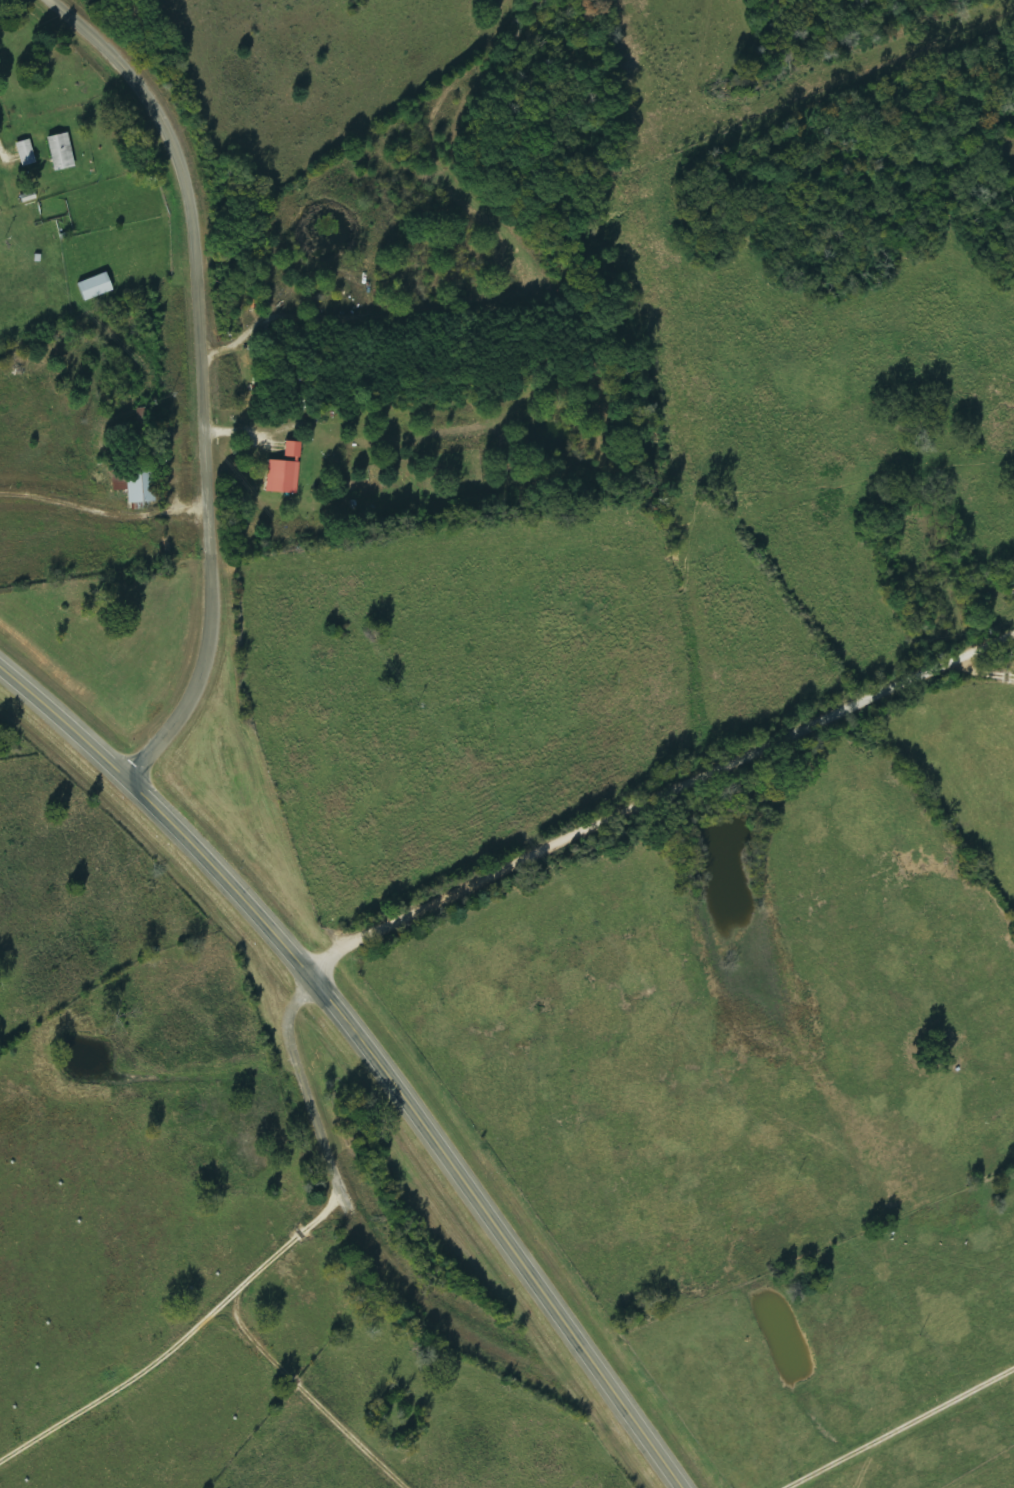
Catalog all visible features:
road: (55, 4)
building: (60, 152)
building: (25, 153)
building: (94, 287)
road: (201, 375)
building: (283, 471)
building: (141, 485)
road: (974, 646)
road: (974, 669)
road: (619, 810)
road: (373, 1048)
park: (351, 1105)
road: (336, 1182)

